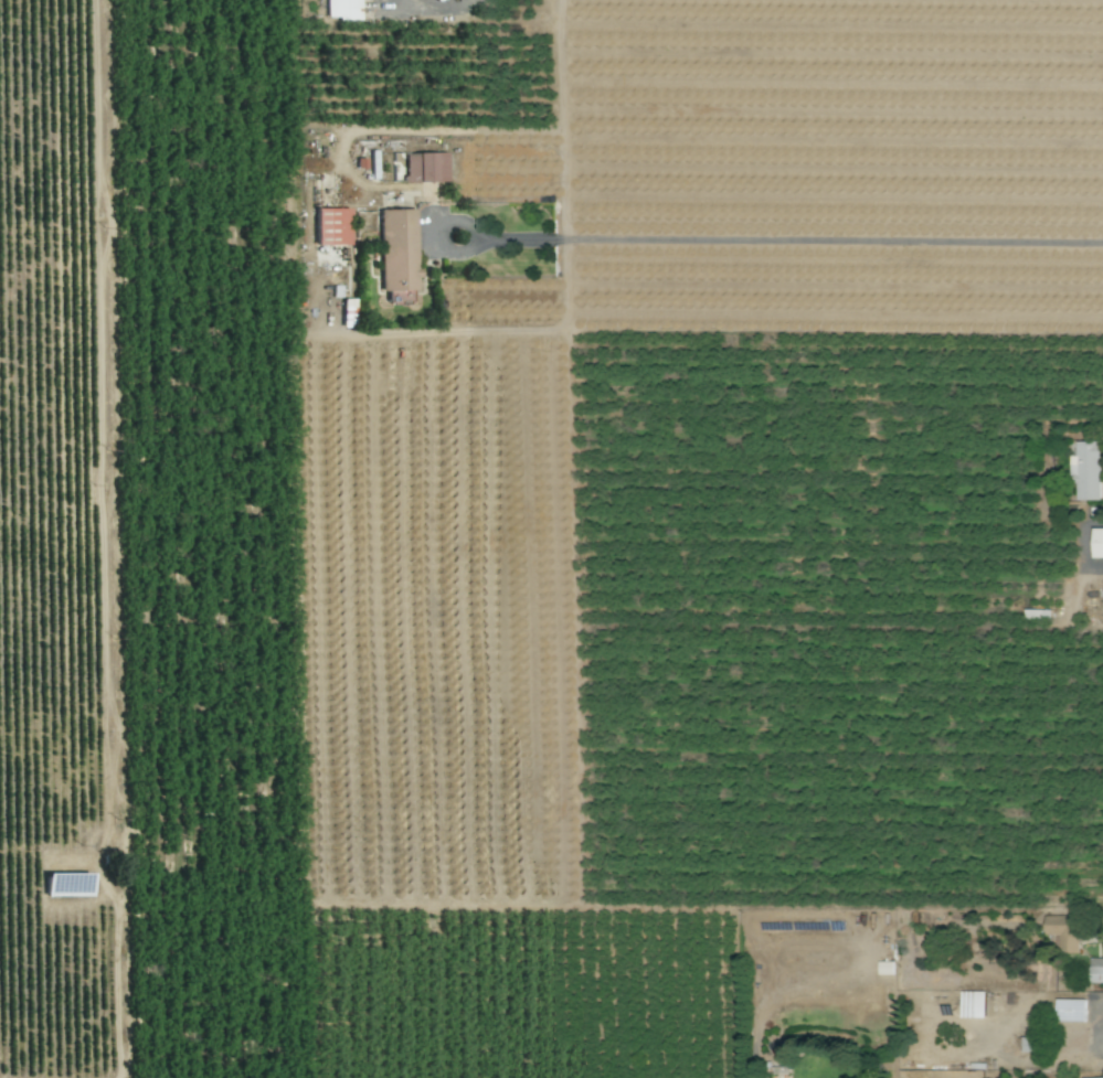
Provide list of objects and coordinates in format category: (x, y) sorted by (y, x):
road: (444, 6)
building: (342, 9)
road: (556, 120)
building: (425, 167)
building: (332, 226)
road: (779, 241)
building: (397, 254)
building: (1085, 470)
building: (1097, 543)
building: (1062, 931)
building: (1095, 970)
building: (972, 1004)
building: (1070, 1010)
building: (1096, 1077)

